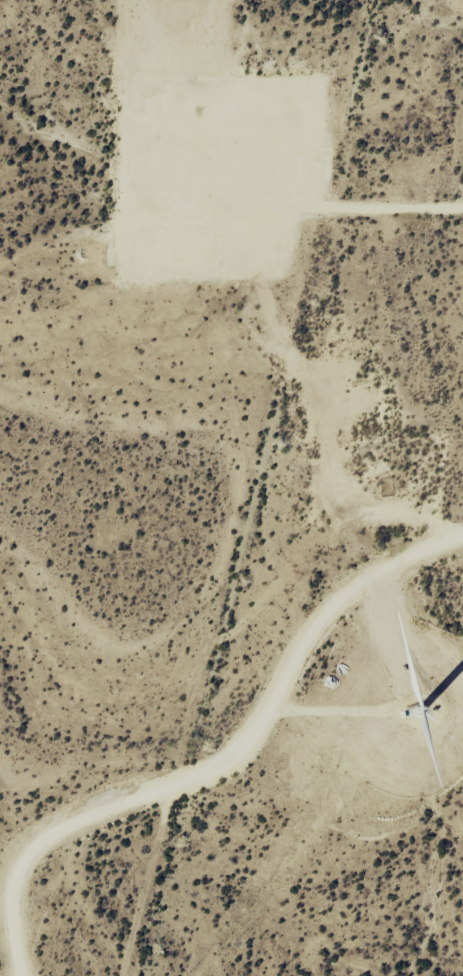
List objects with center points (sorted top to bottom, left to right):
wind turbine: (417, 712)

